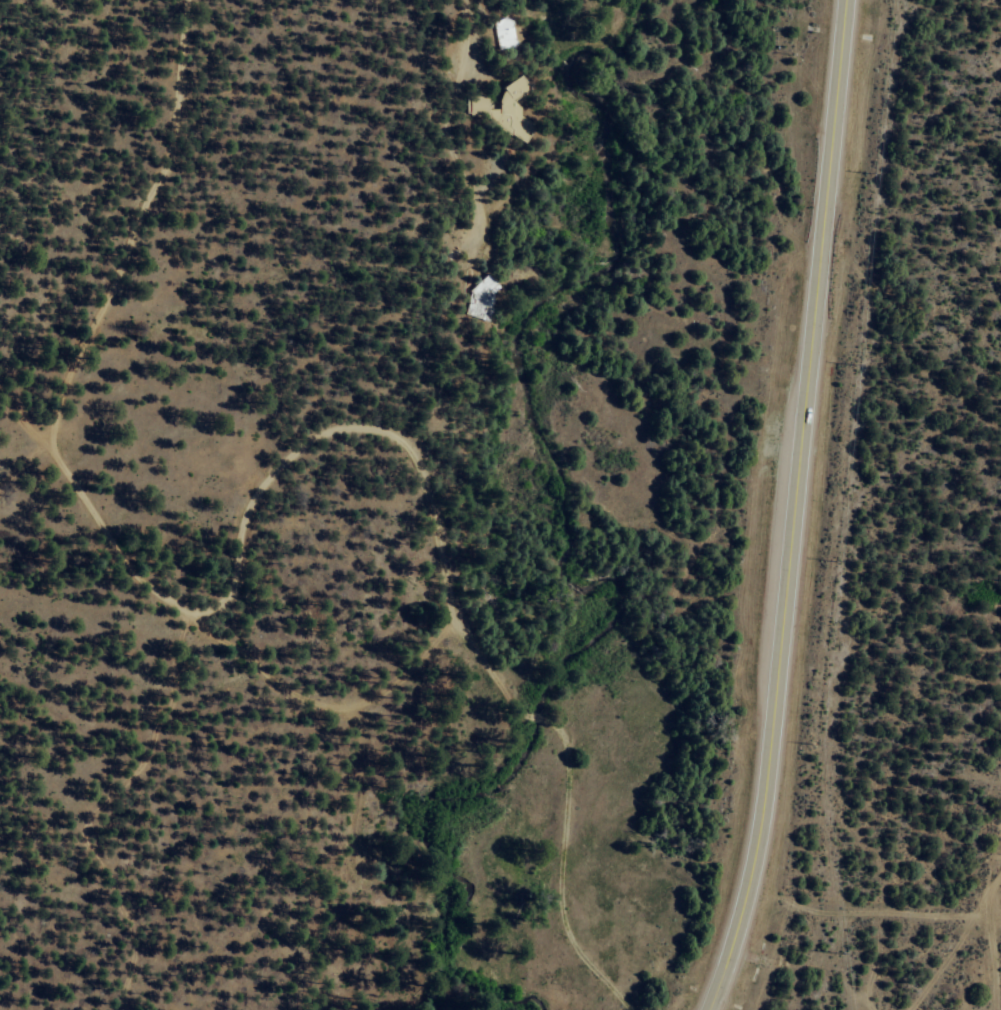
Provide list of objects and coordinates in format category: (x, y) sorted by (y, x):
building: (505, 32)
building: (504, 108)
road: (791, 508)
road: (990, 940)

